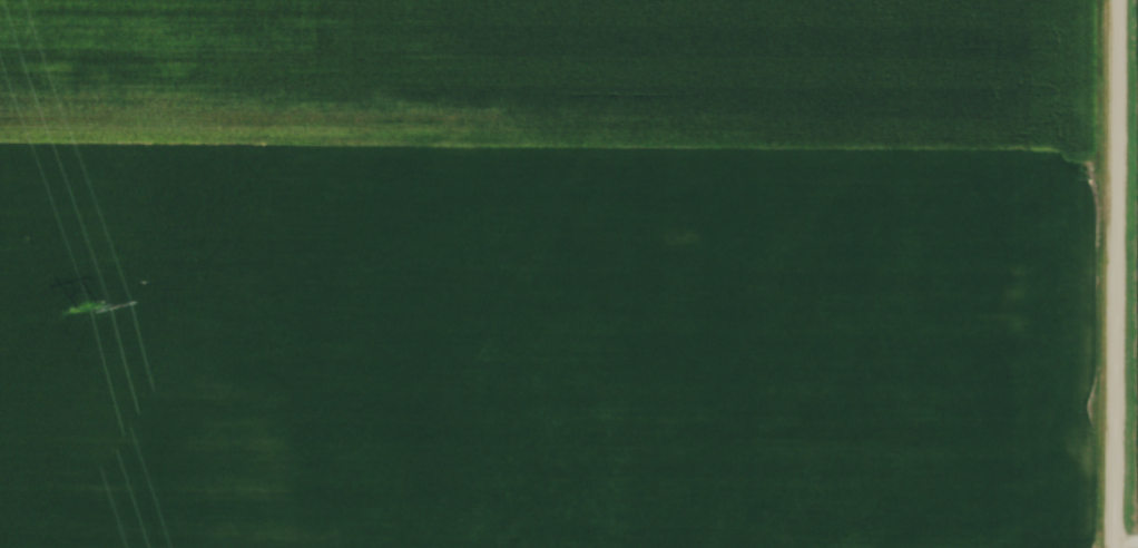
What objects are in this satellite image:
road: (1110, 274)
power tower: (96, 302)

